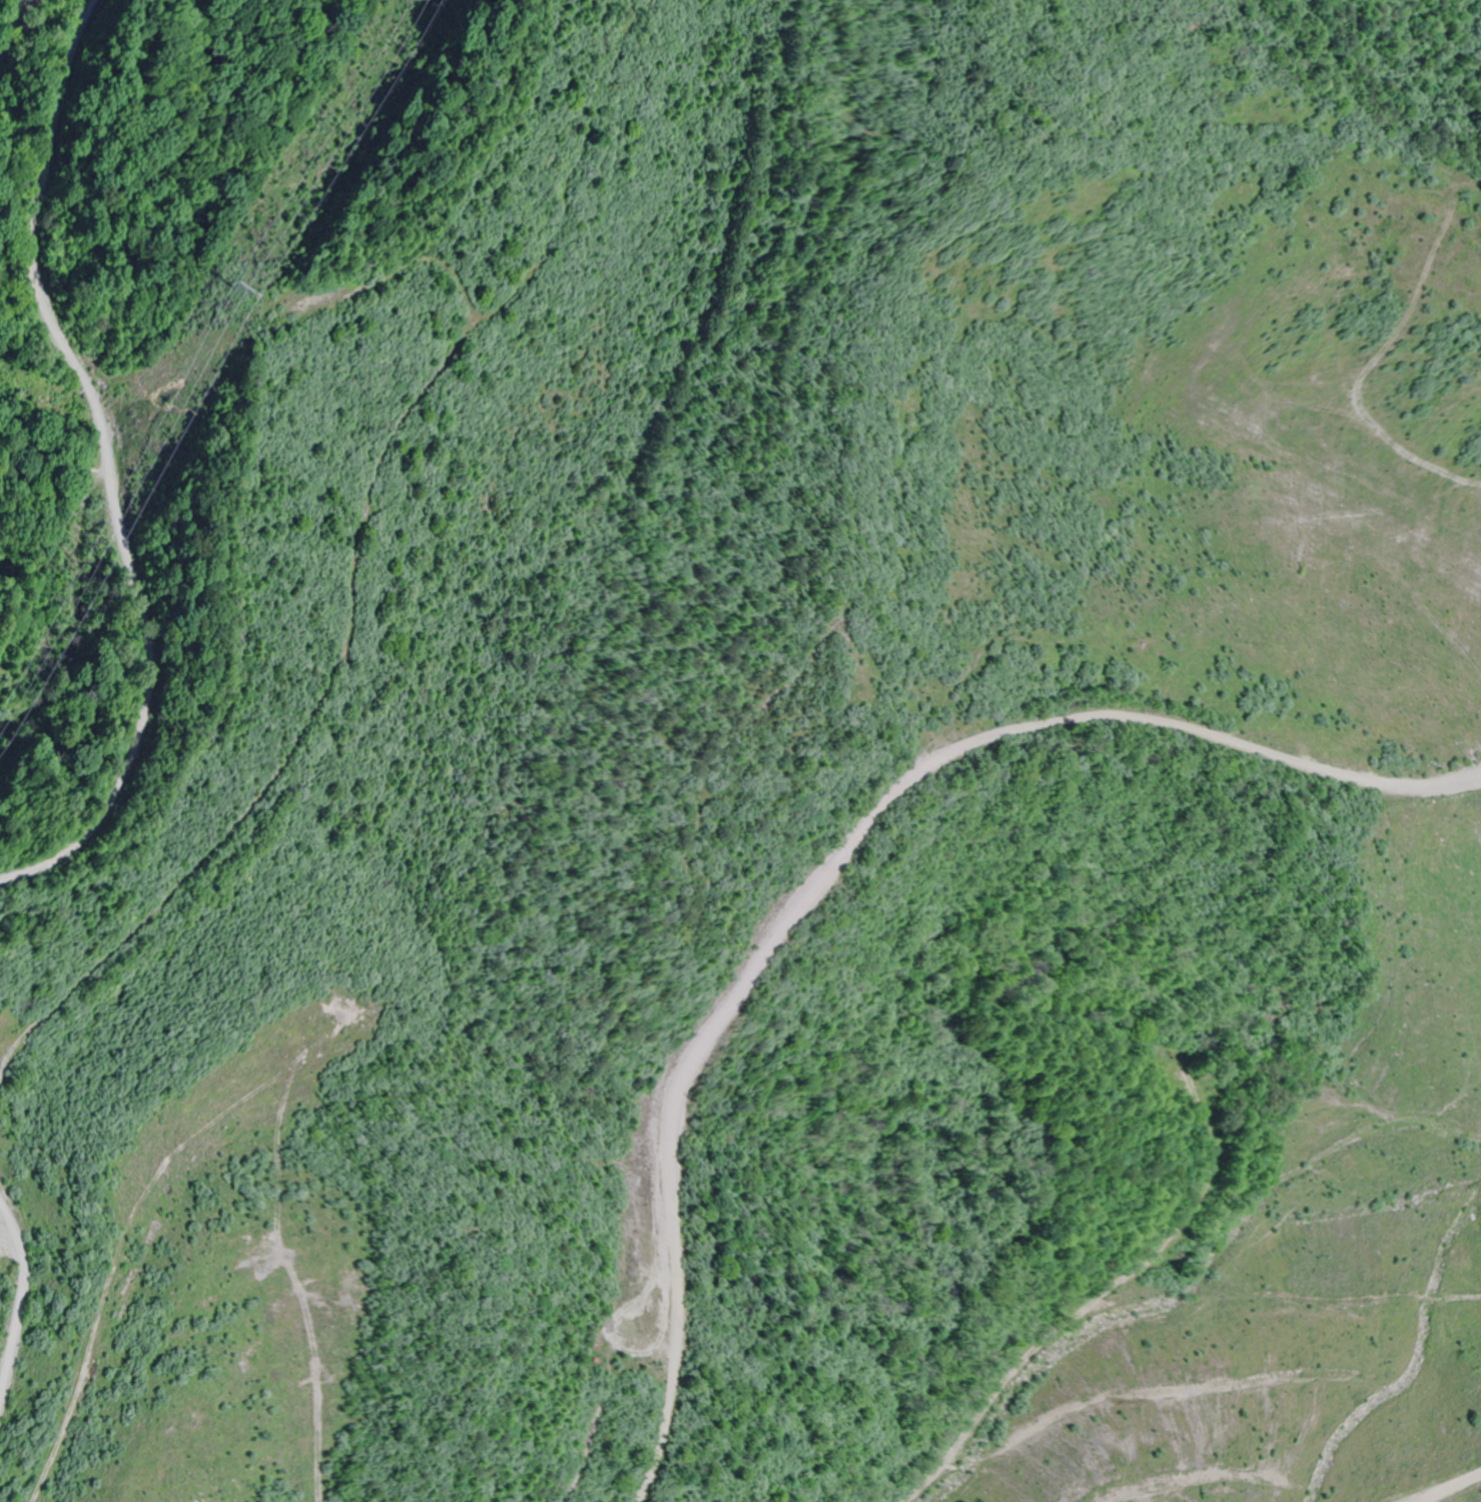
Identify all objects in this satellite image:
road: (14, 31)
power tower: (218, 293)

